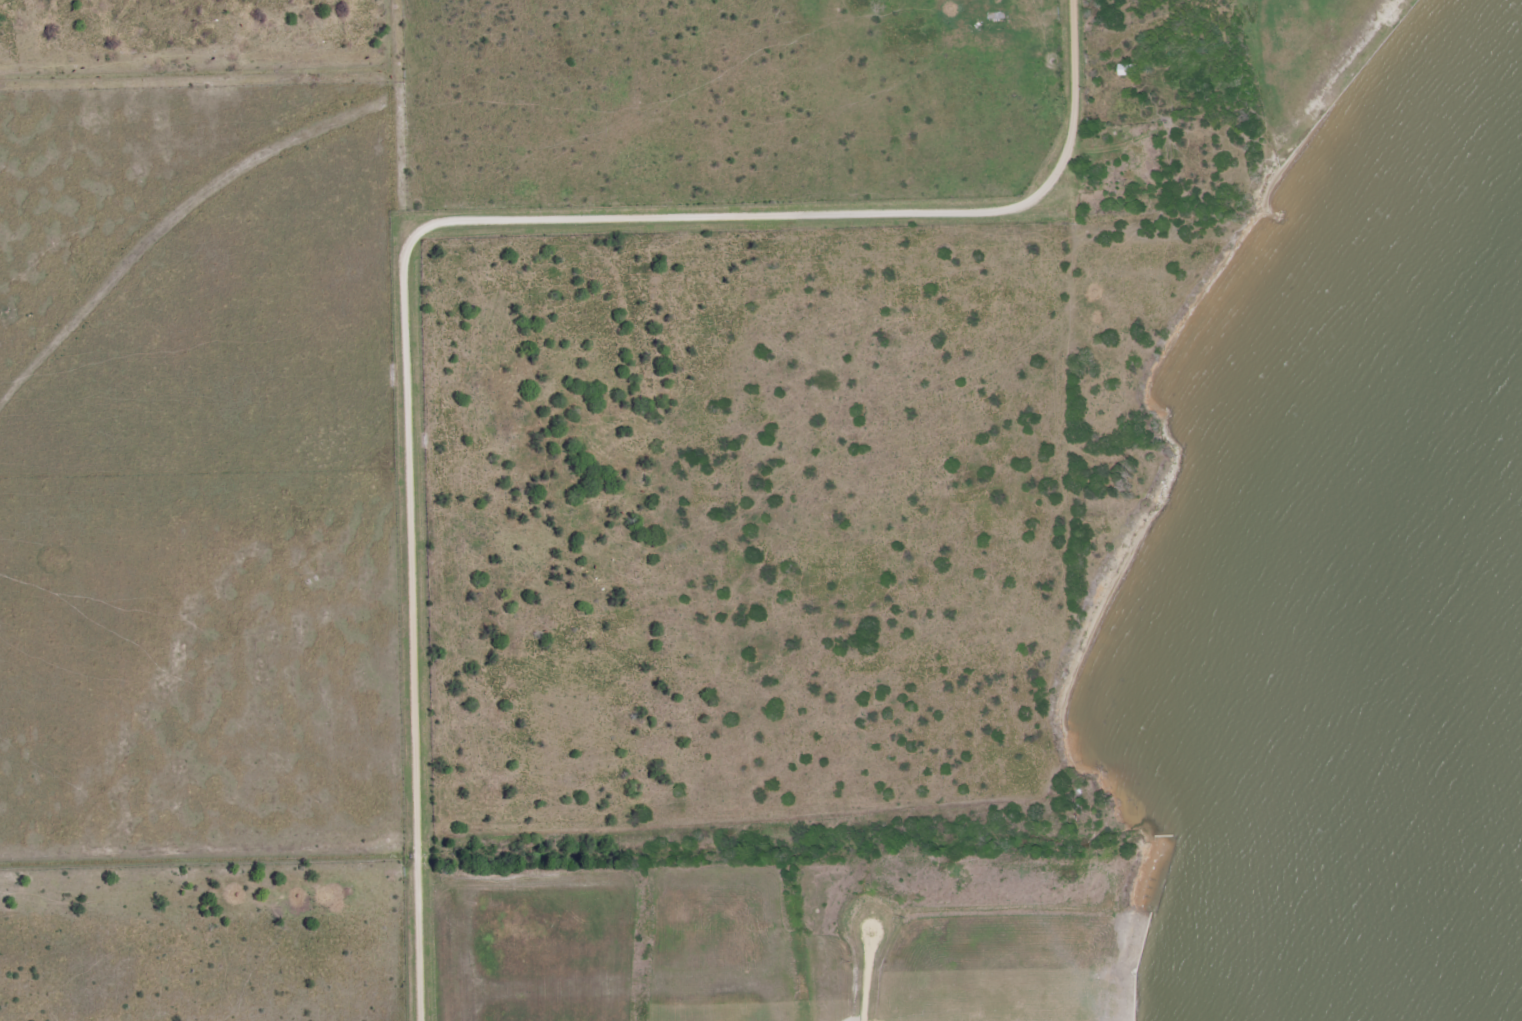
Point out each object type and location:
road: (433, 221)

